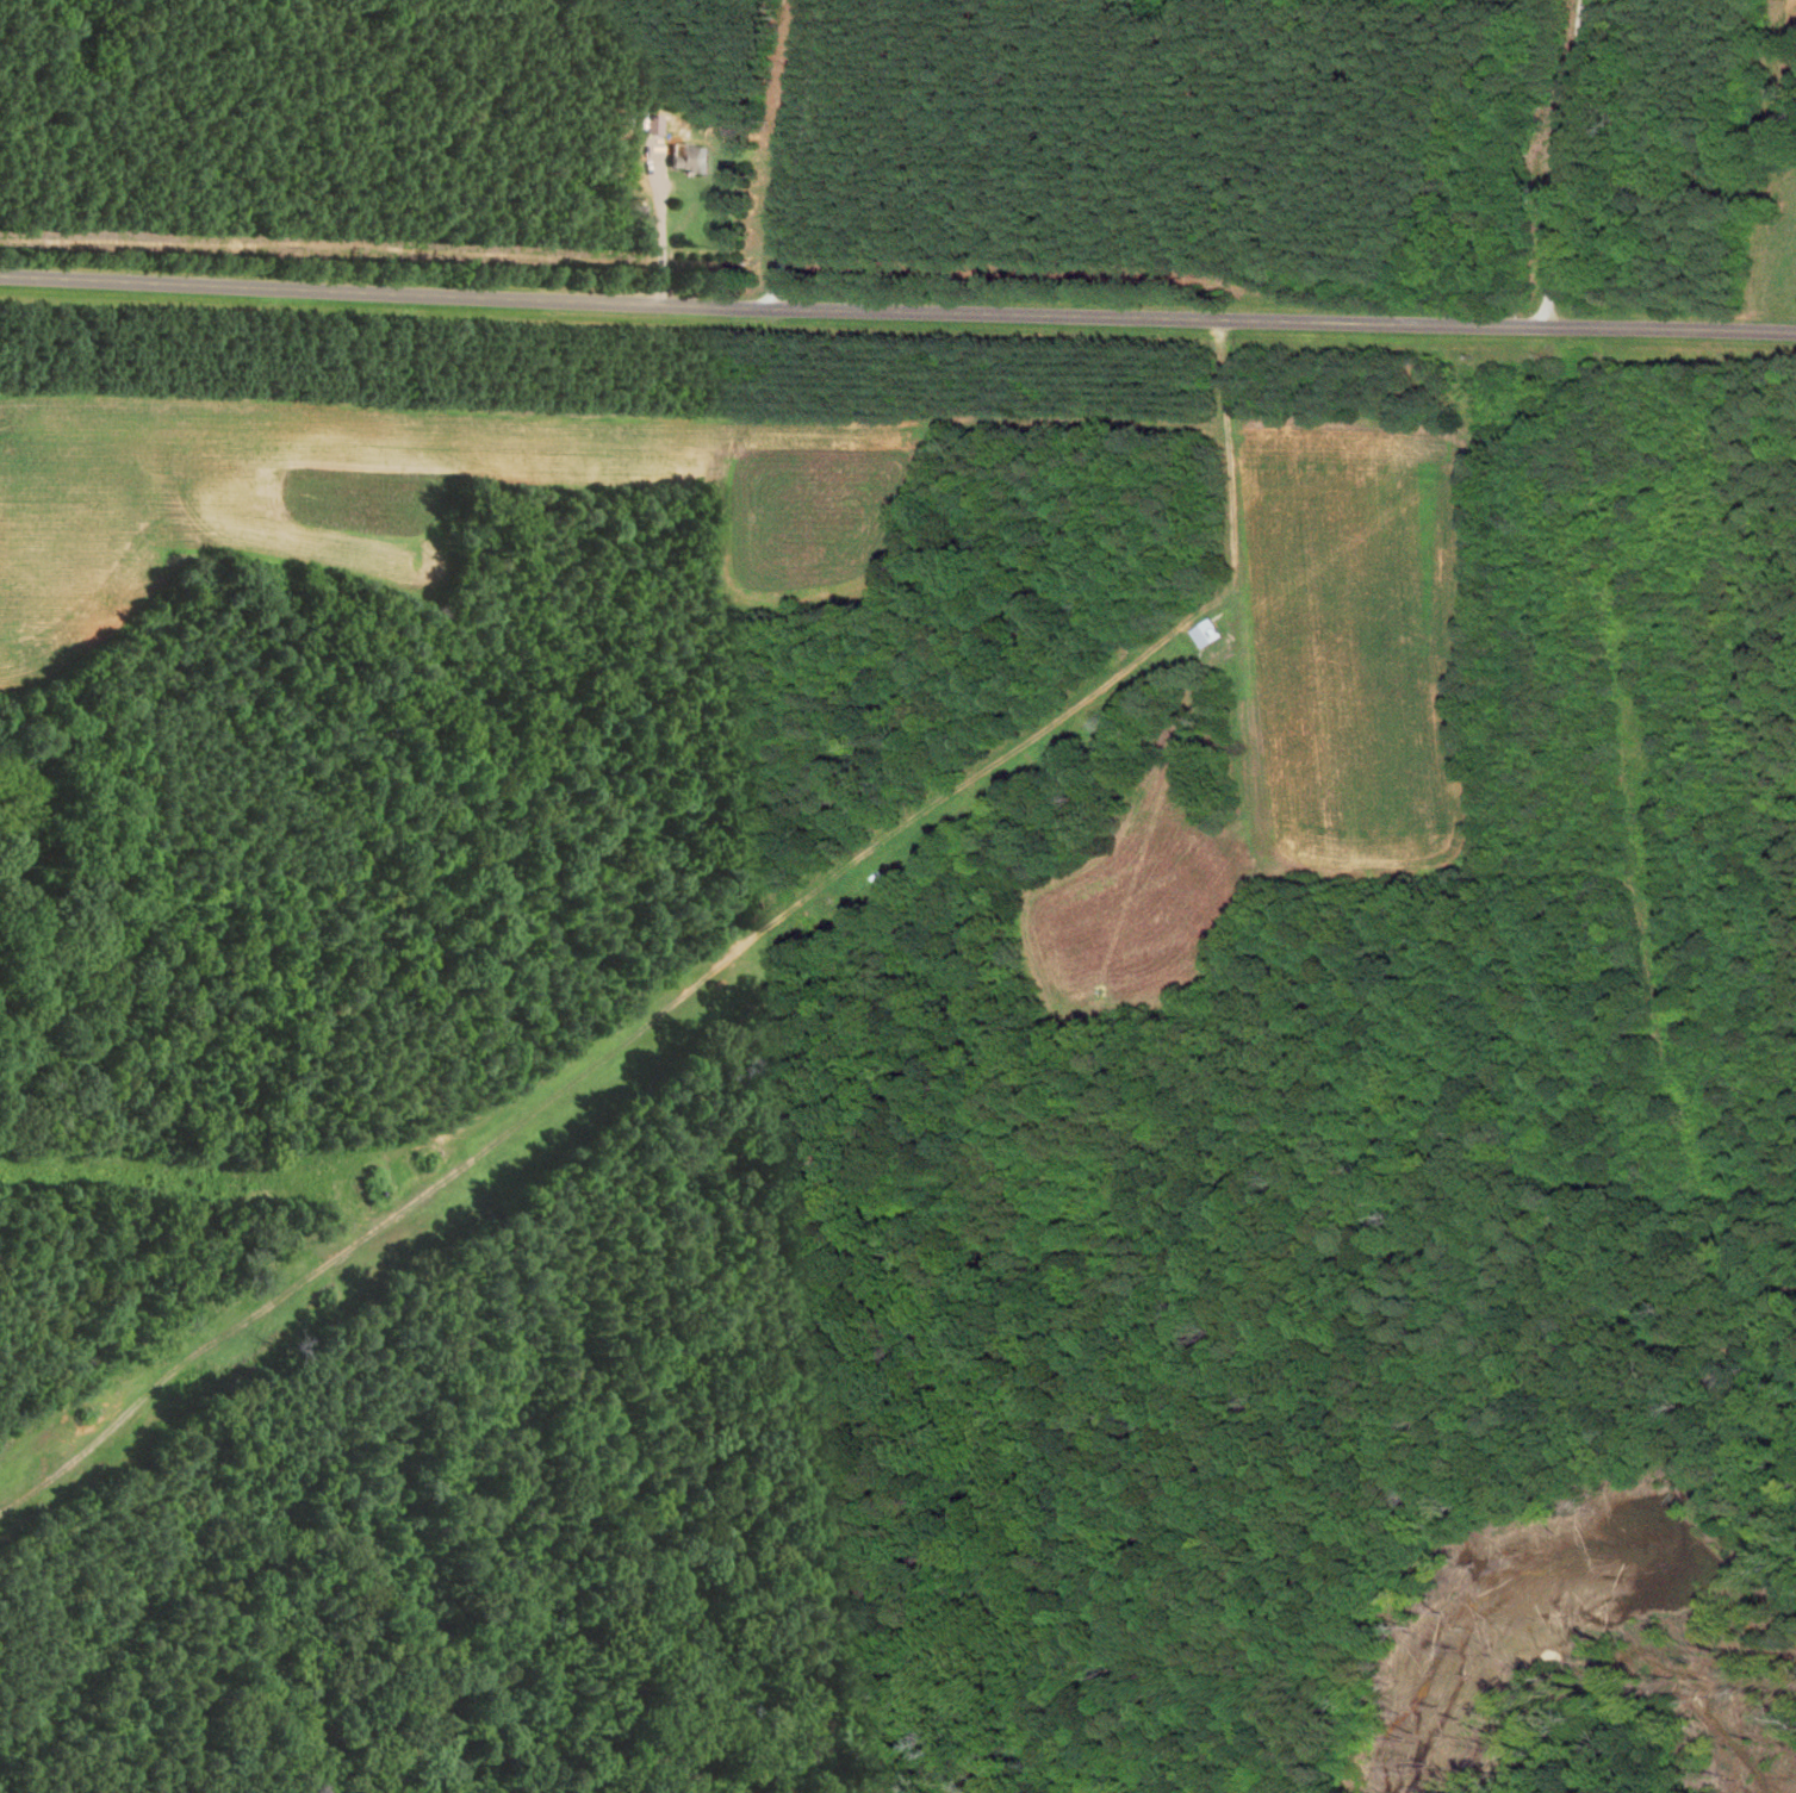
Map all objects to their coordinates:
road: (797, 156)
building: (694, 160)
road: (1567, 163)
road: (661, 230)
road: (897, 313)

